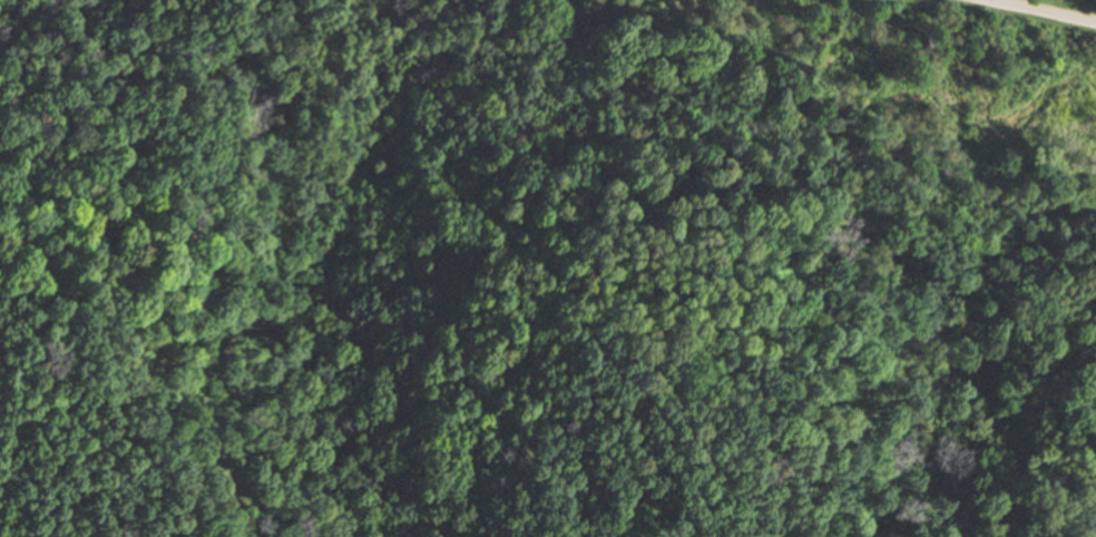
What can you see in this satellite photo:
road: (1038, 12)

